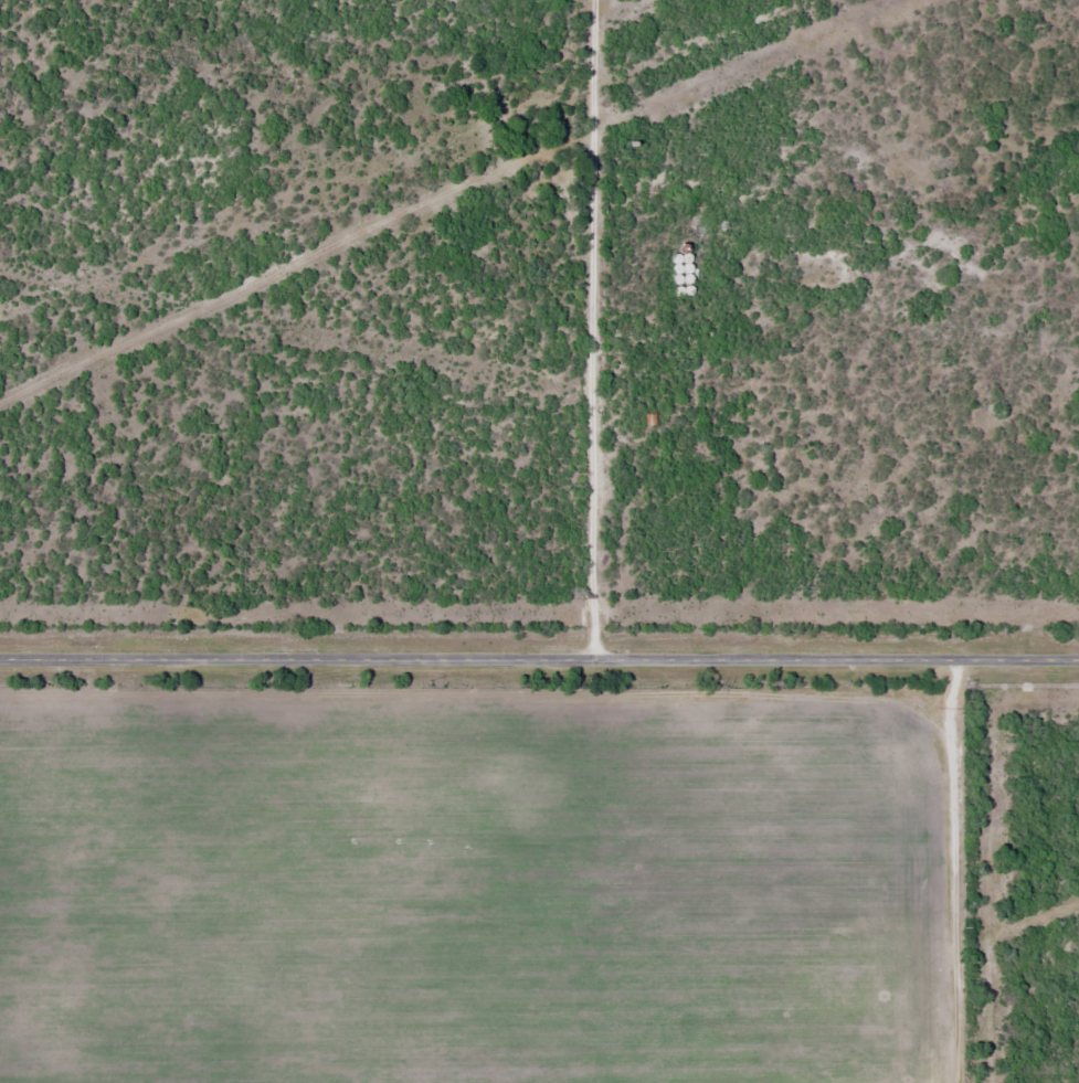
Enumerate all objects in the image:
road: (591, 329)
road: (539, 657)

